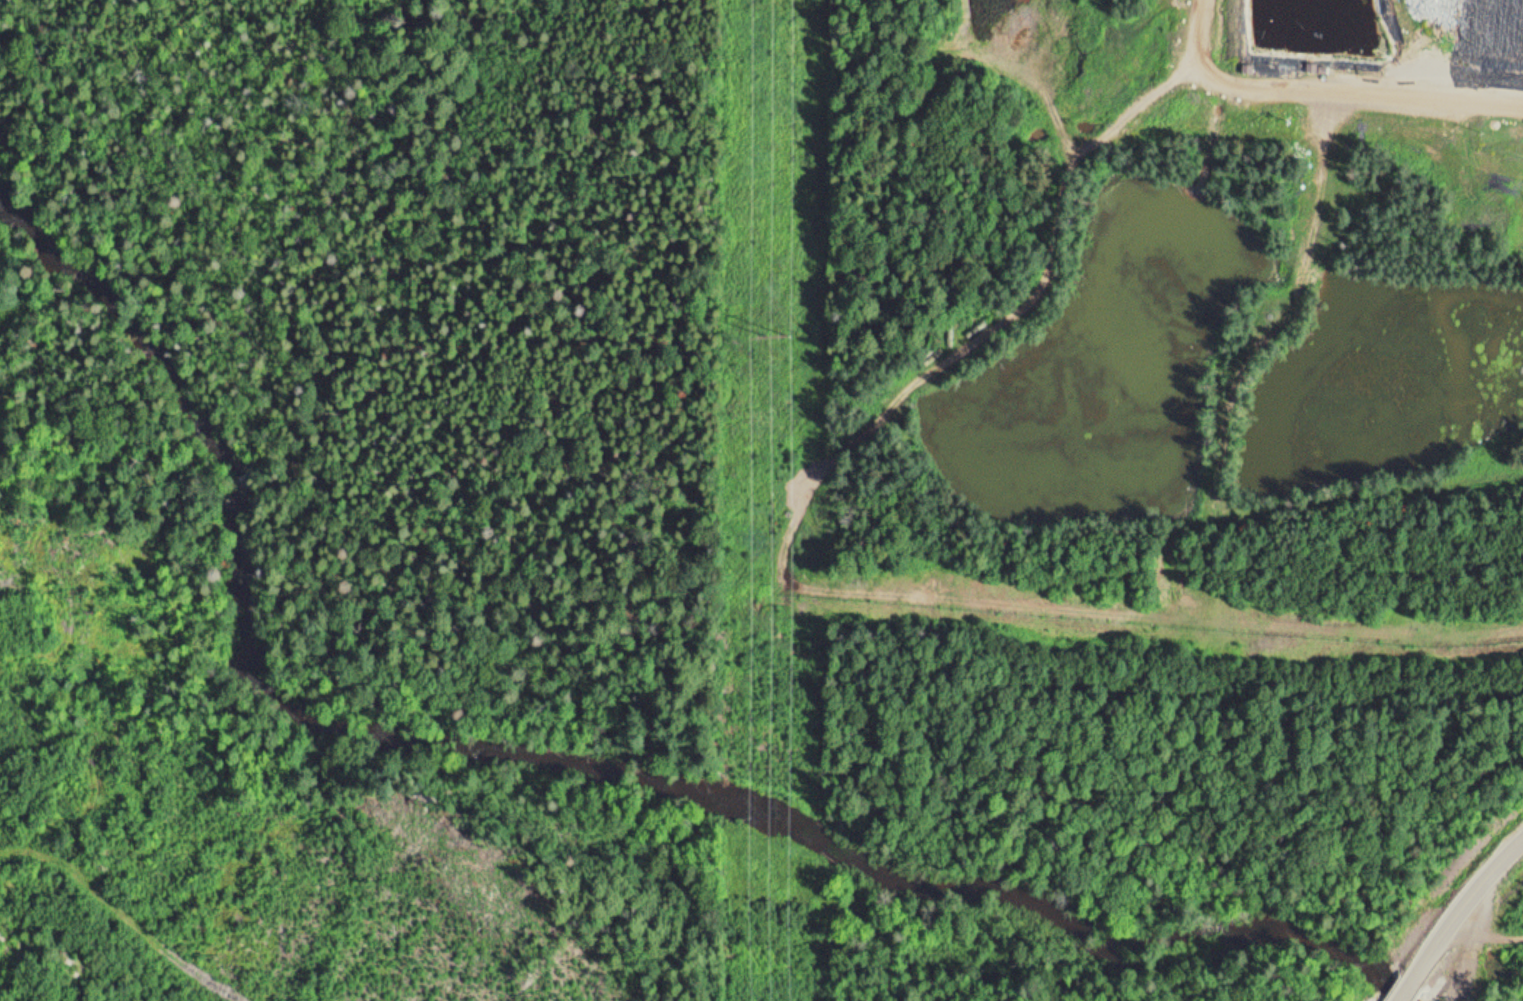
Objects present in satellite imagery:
road: (1302, 90)
power tower: (780, 335)
landfill: (1137, 358)
river: (417, 743)
road: (1455, 917)
road: (1483, 932)
river: (1269, 946)

